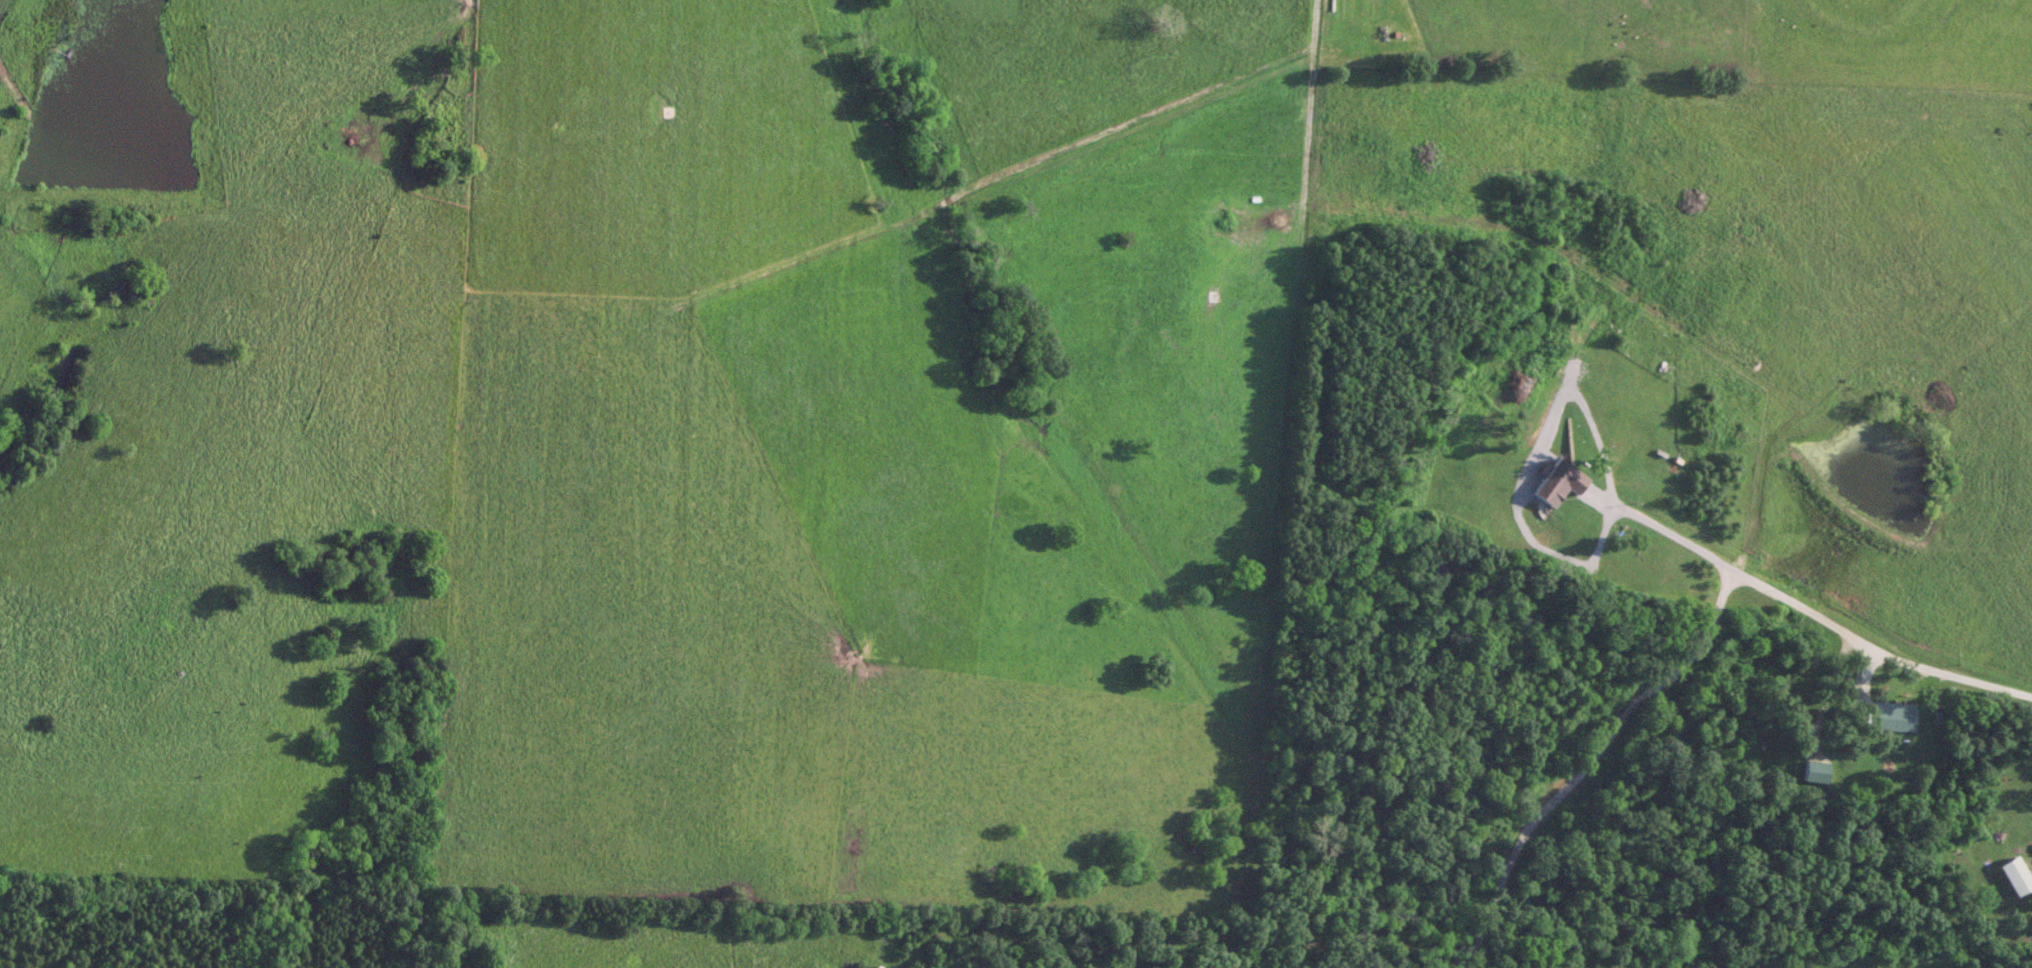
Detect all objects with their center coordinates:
building: (667, 110)
building: (2016, 875)

